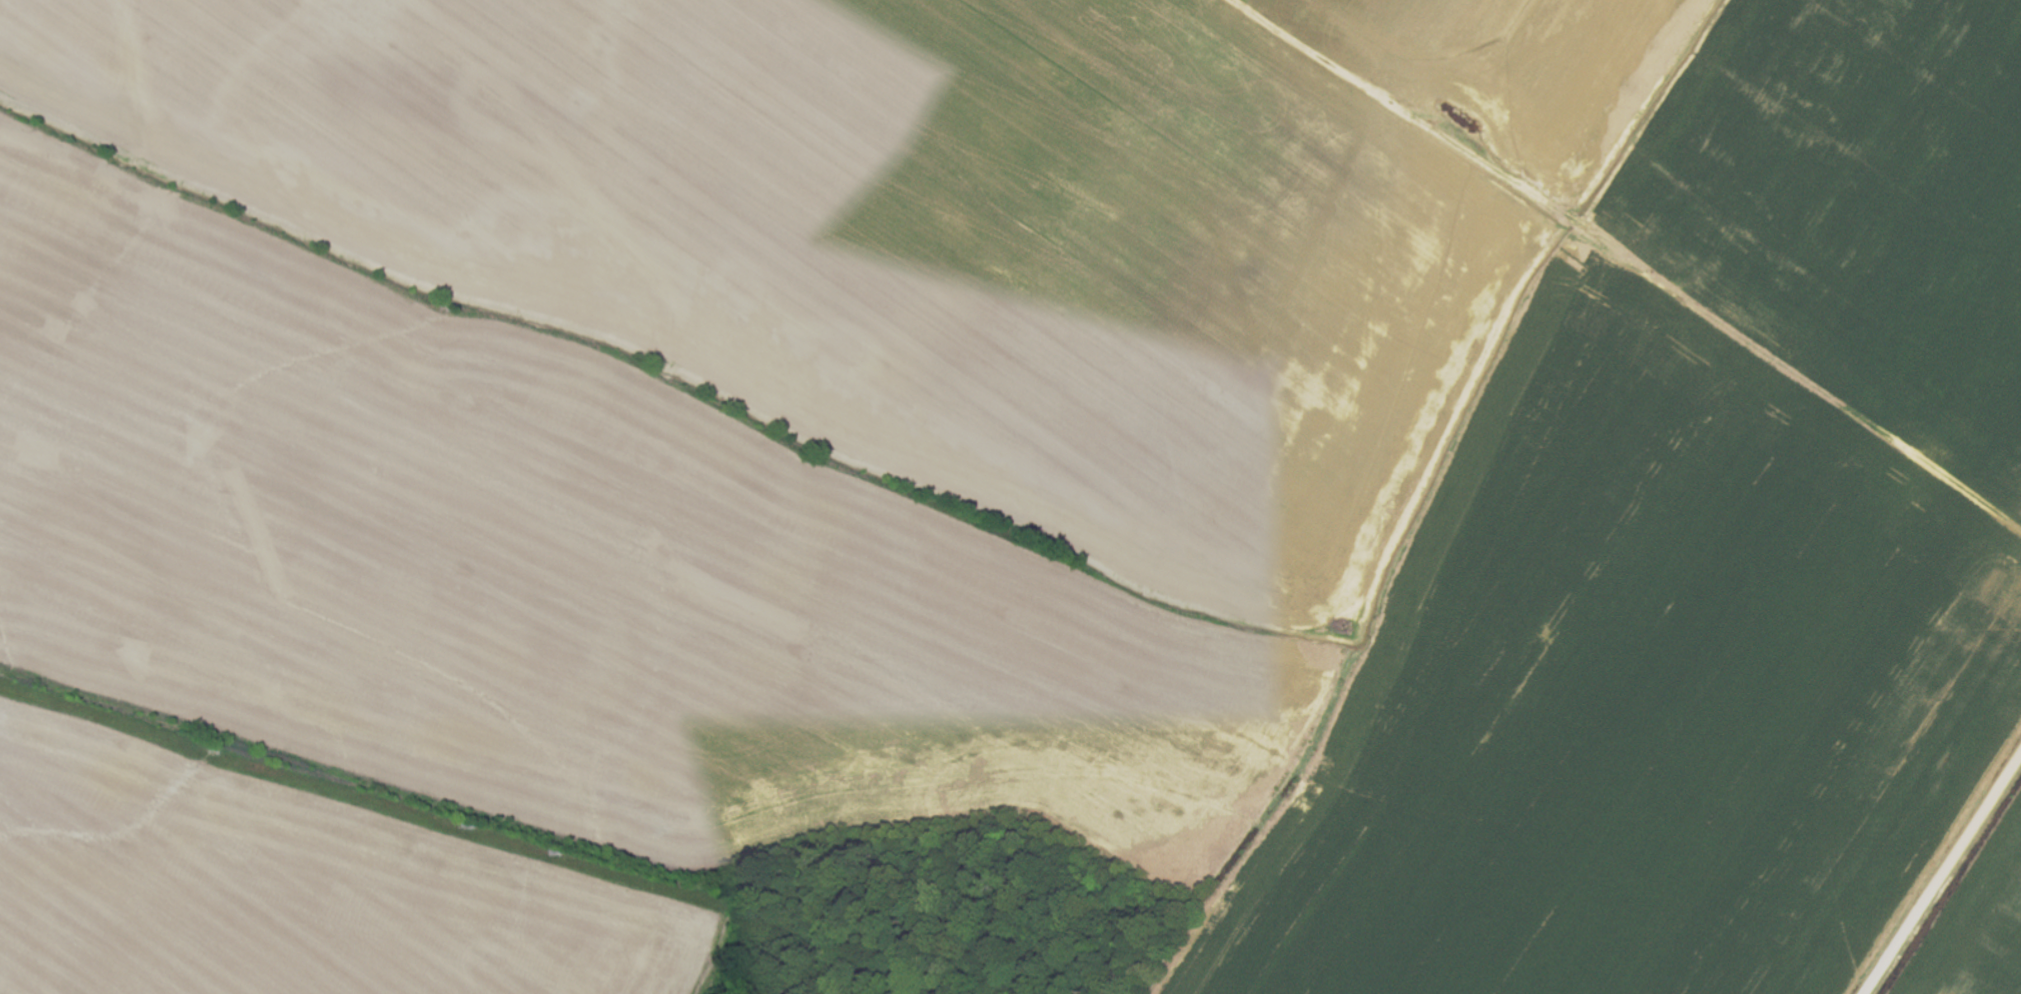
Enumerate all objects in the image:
road: (1944, 876)

